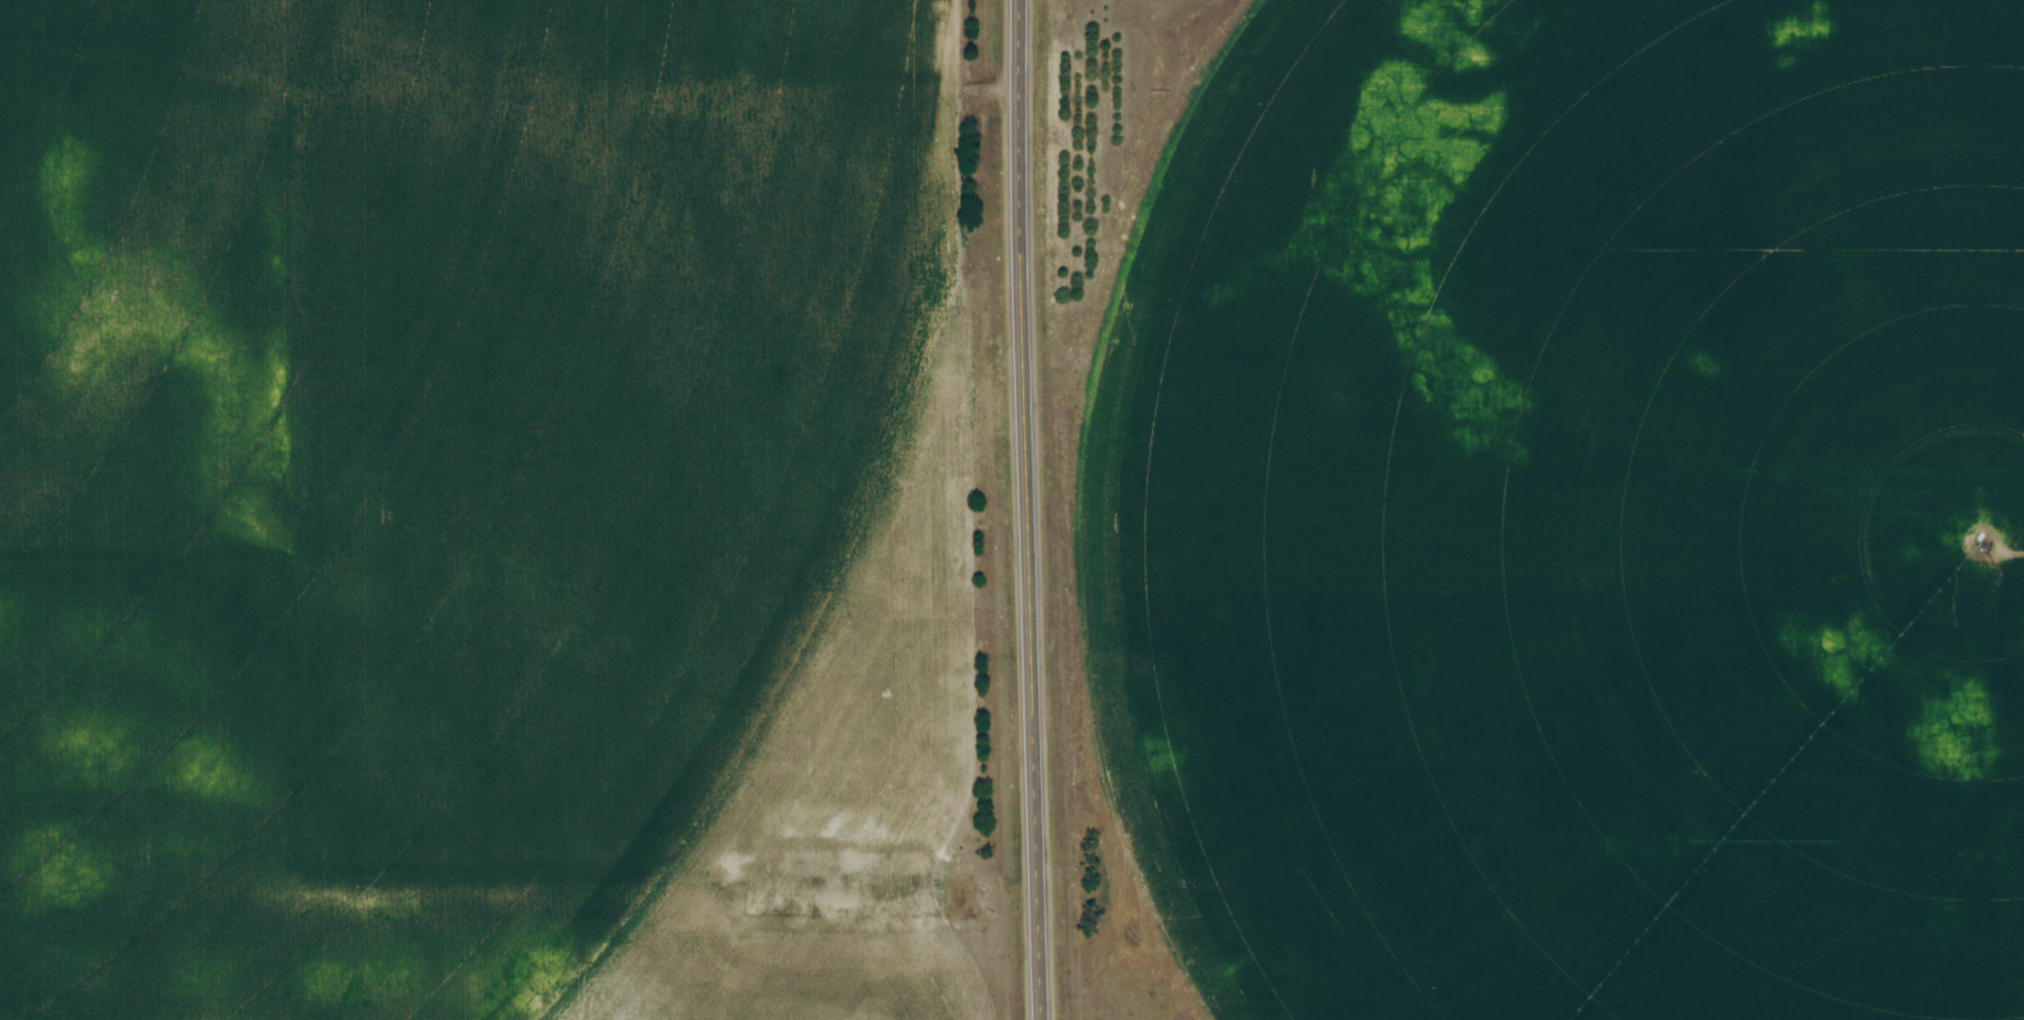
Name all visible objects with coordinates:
road: (1028, 510)

